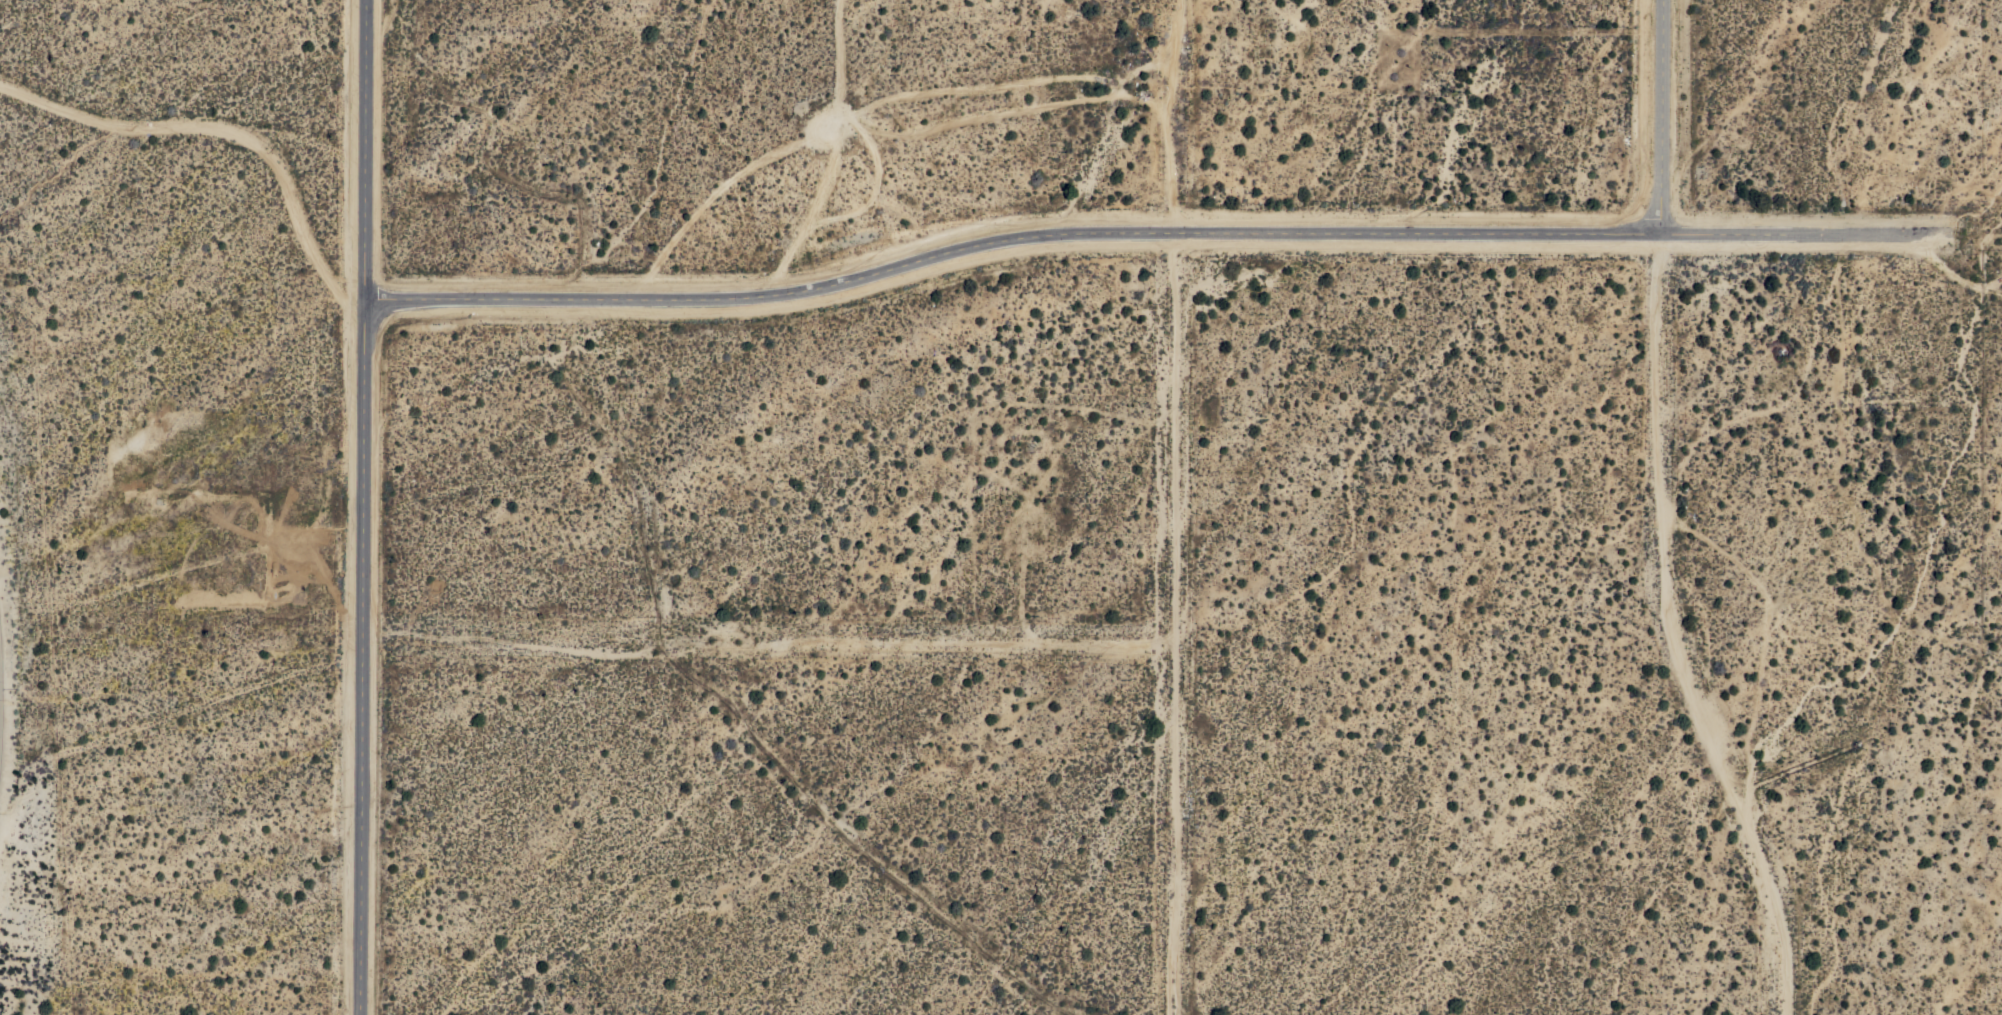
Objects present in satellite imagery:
road: (1663, 116)
road: (226, 131)
road: (1787, 232)
road: (1010, 234)
road: (1952, 270)
road: (364, 507)
road: (1175, 622)
road: (1676, 631)
road: (987, 642)

